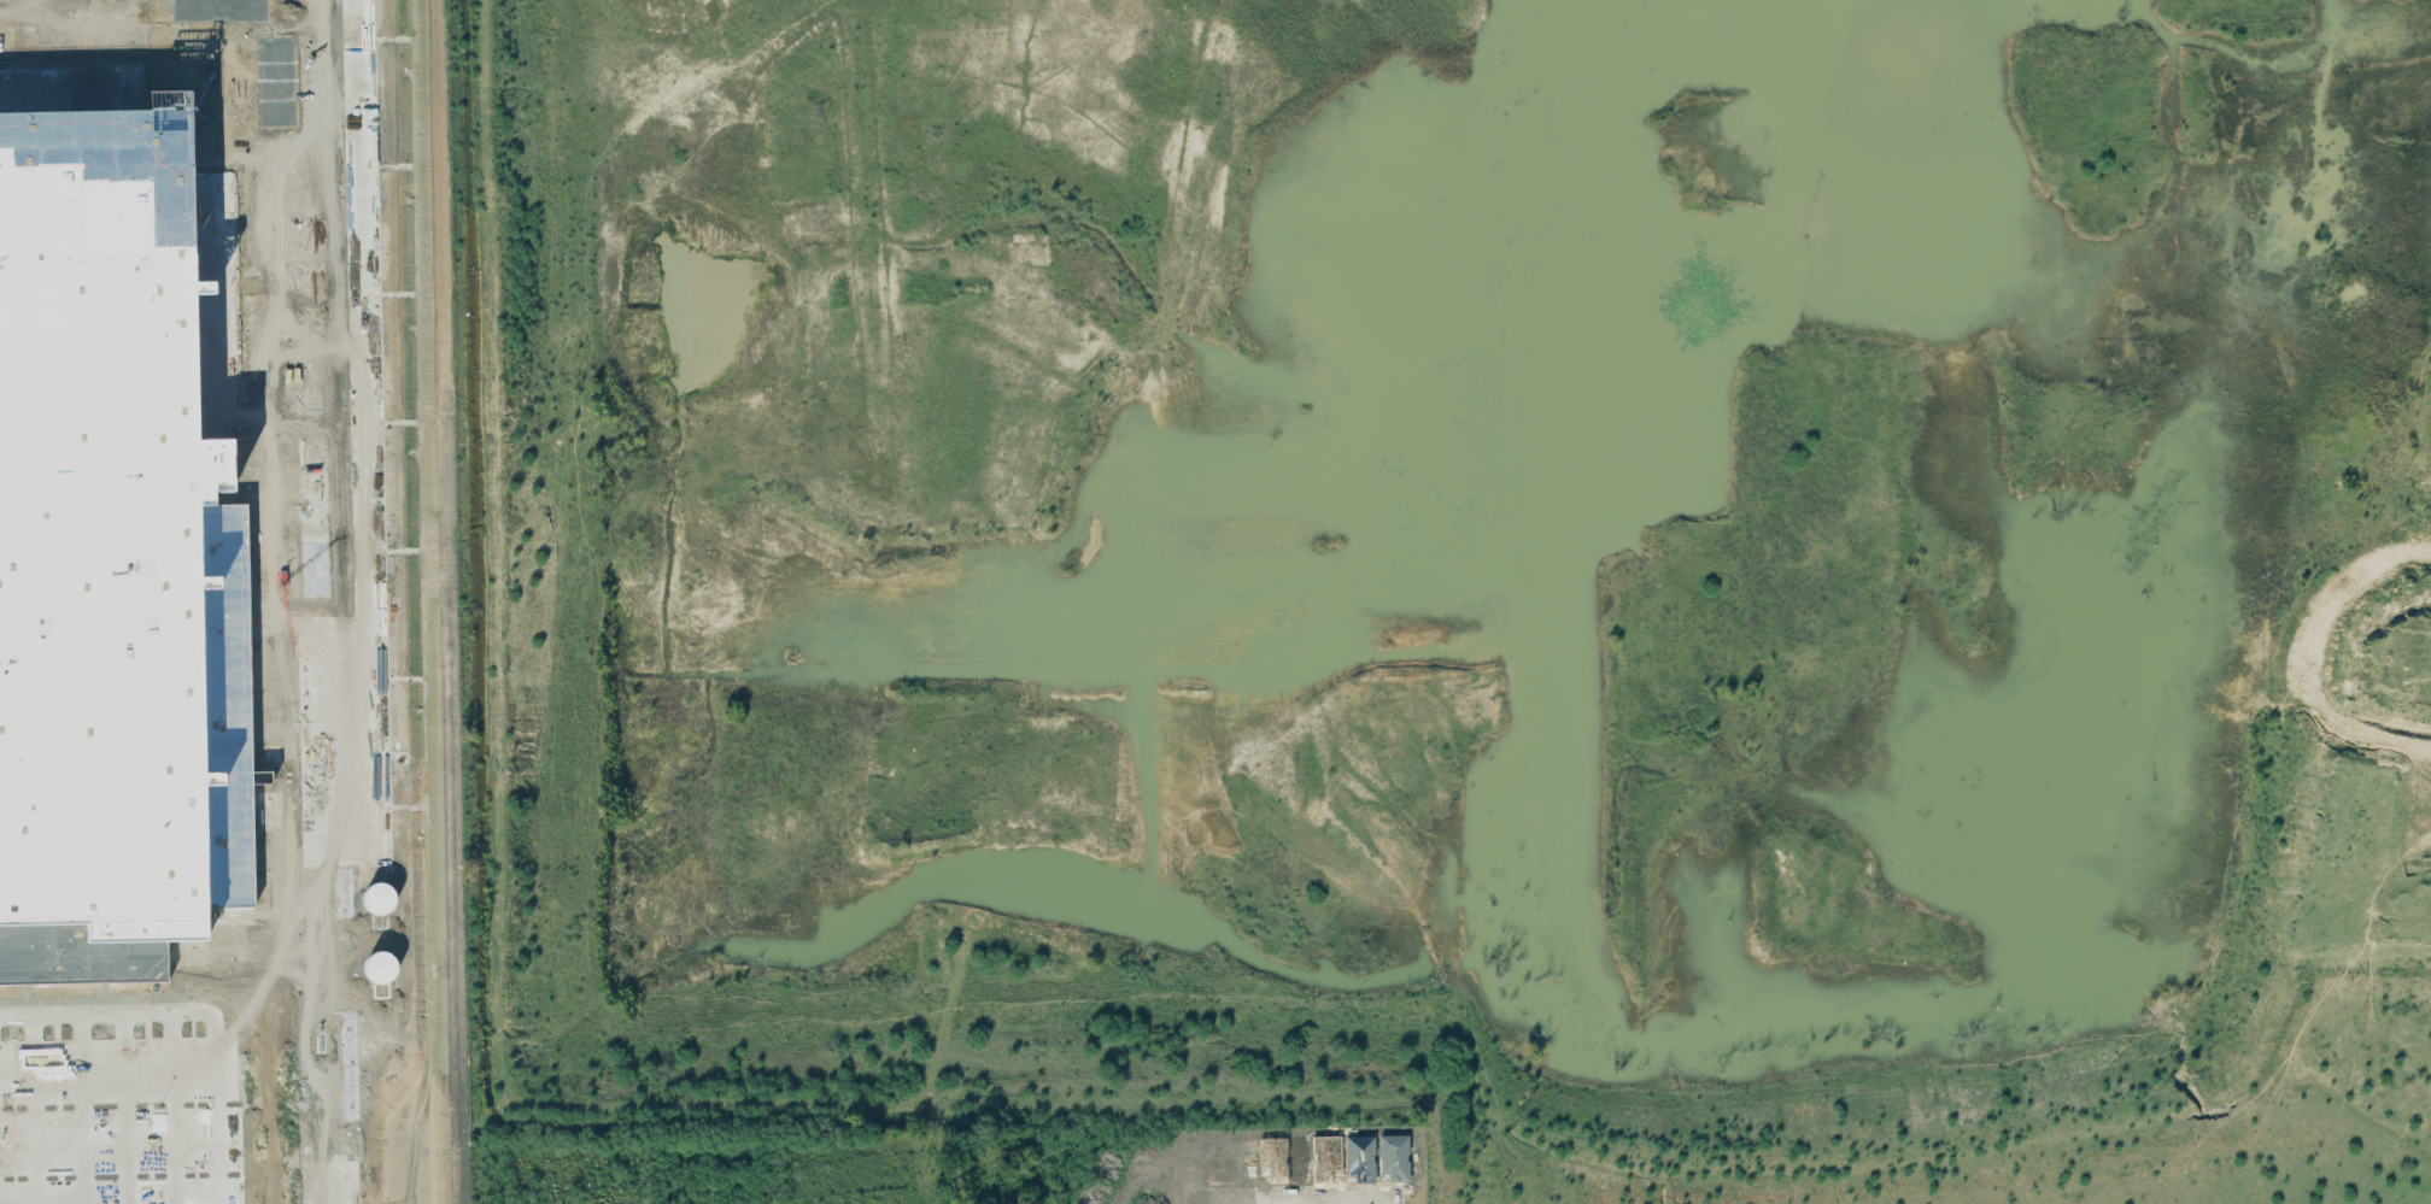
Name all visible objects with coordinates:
building: (98, 517)
road: (321, 601)
road: (2310, 652)
road: (200, 1011)
road: (83, 1108)
road: (127, 1108)
road: (172, 1108)
road: (34, 1109)
road: (1293, 1199)
road: (1317, 1202)

